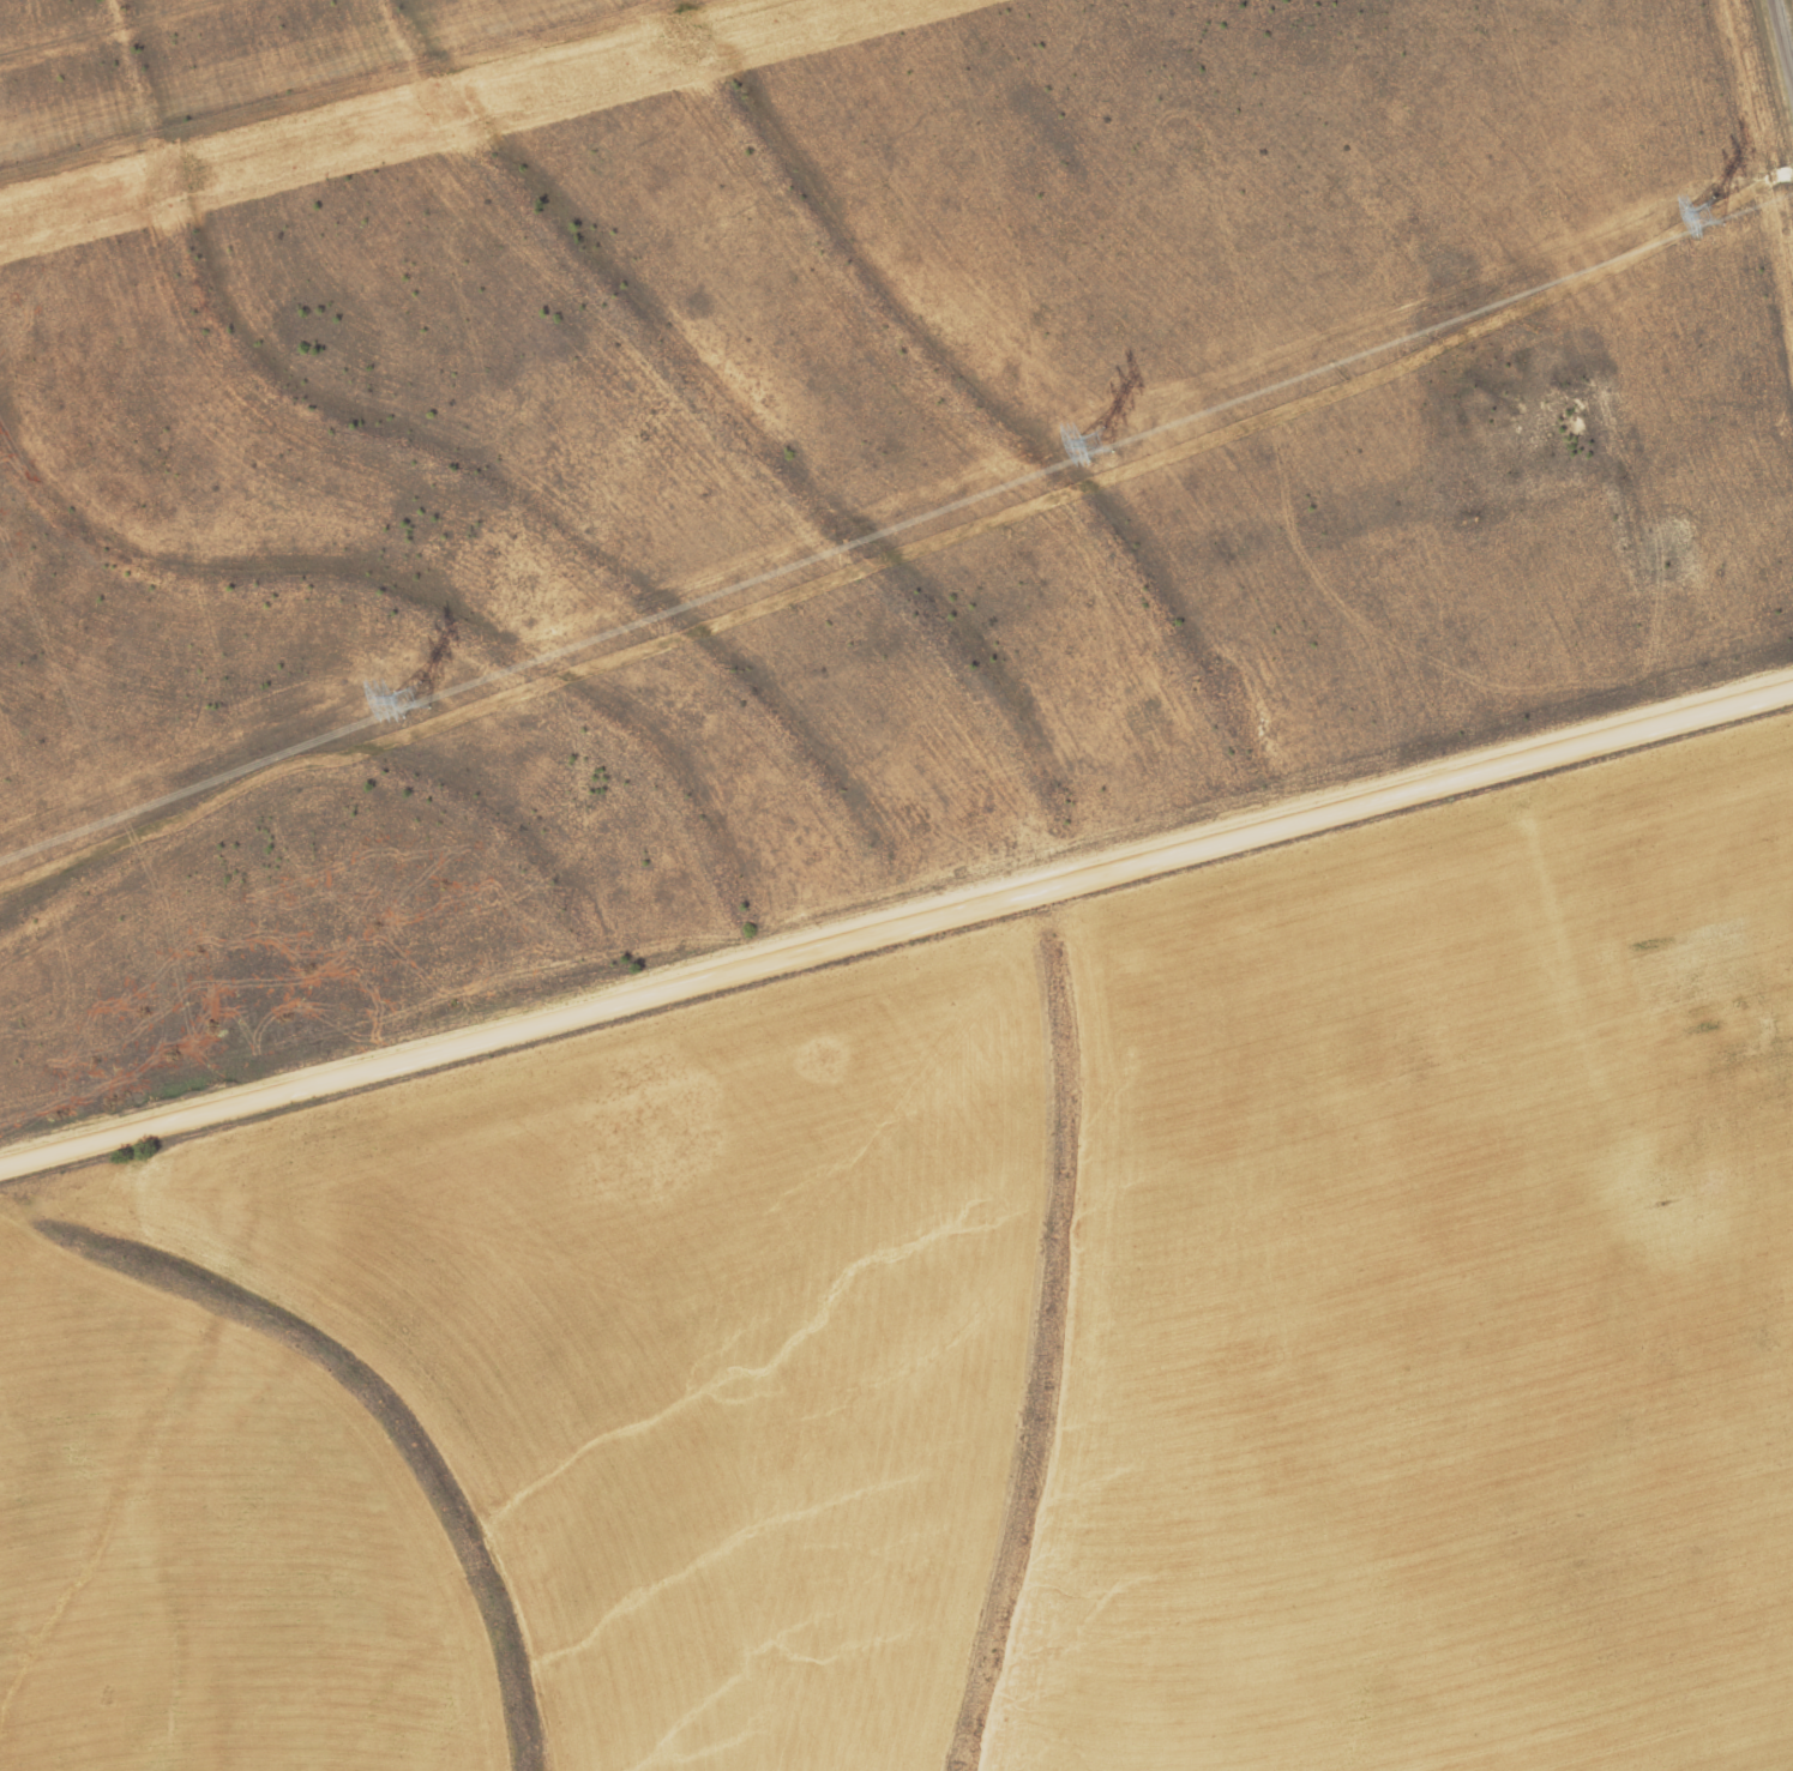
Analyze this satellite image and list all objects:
road: (1791, 6)
power tower: (1703, 213)
power tower: (1093, 442)
power tower: (411, 699)
road: (896, 924)

